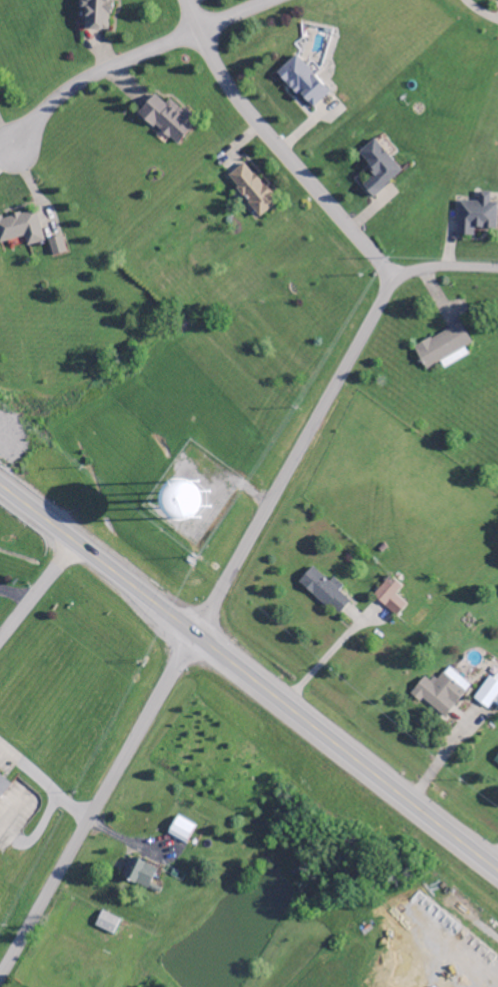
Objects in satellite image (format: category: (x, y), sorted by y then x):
road: (478, 13)
building: (94, 14)
road: (238, 18)
road: (95, 81)
building: (303, 83)
building: (166, 120)
road: (276, 150)
building: (378, 169)
building: (251, 191)
building: (476, 217)
building: (21, 229)
building: (56, 247)
building: (443, 349)
road: (319, 411)
water tower: (186, 494)
road: (38, 585)
building: (324, 593)
road: (14, 594)
building: (390, 598)
road: (249, 677)
building: (441, 693)
building: (488, 693)
building: (496, 702)
building: (496, 761)
road: (44, 781)
building: (3, 787)
road: (96, 805)
building: (180, 831)
building: (138, 875)
building: (105, 924)

